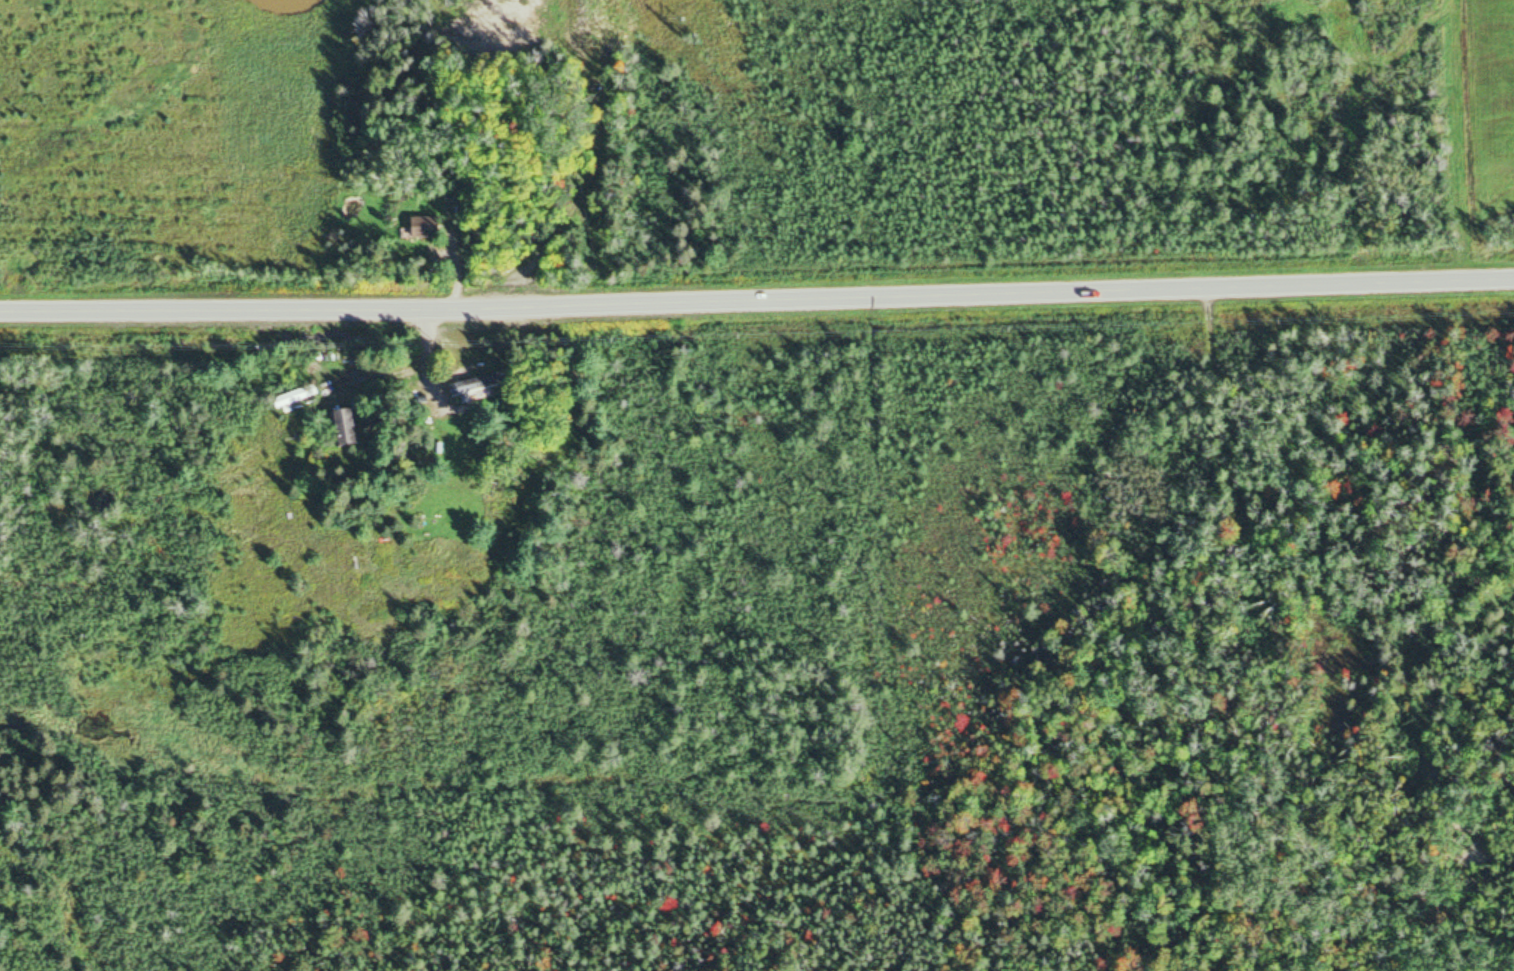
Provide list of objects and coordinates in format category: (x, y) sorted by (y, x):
building: (533, 27)
building: (419, 230)
road: (757, 295)
building: (466, 386)
building: (291, 400)
building: (336, 428)

